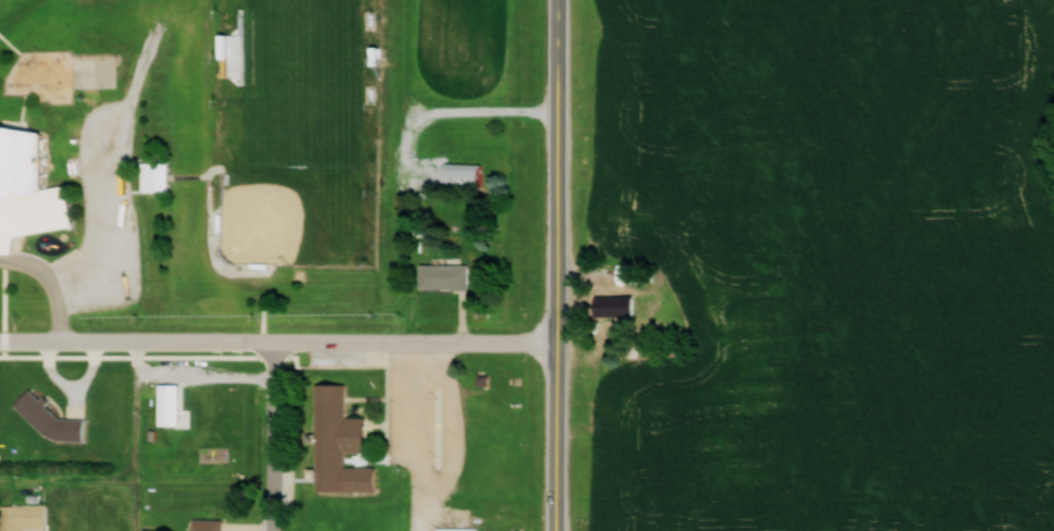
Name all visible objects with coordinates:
building: (458, 173)
building: (156, 175)
building: (26, 188)
road: (559, 264)
building: (626, 272)
building: (667, 272)
building: (441, 276)
building: (613, 306)
road: (279, 342)
road: (272, 436)
building: (335, 443)
building: (19, 516)

